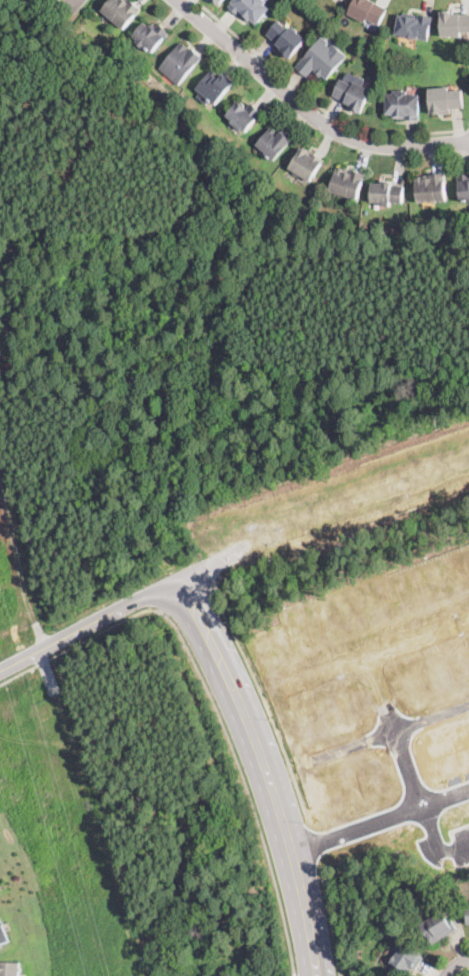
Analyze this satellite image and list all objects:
building: (343, 0)
building: (219, 1)
road: (72, 5)
building: (250, 9)
building: (369, 10)
building: (122, 11)
building: (453, 23)
building: (415, 26)
building: (151, 35)
building: (287, 38)
building: (322, 59)
building: (181, 63)
building: (214, 86)
building: (354, 94)
building: (446, 99)
road: (314, 102)
building: (404, 105)
road: (307, 109)
building: (245, 115)
building: (274, 142)
building: (307, 163)
building: (348, 182)
building: (464, 186)
building: (432, 188)
building: (388, 193)
road: (322, 513)
road: (186, 595)
road: (89, 622)
road: (378, 647)
road: (211, 703)
road: (401, 719)
road: (284, 755)
road: (265, 770)
power tower: (2, 777)
road: (377, 806)
building: (468, 914)
building: (439, 927)
building: (3, 934)
building: (404, 961)
road: (456, 964)
building: (9, 968)

